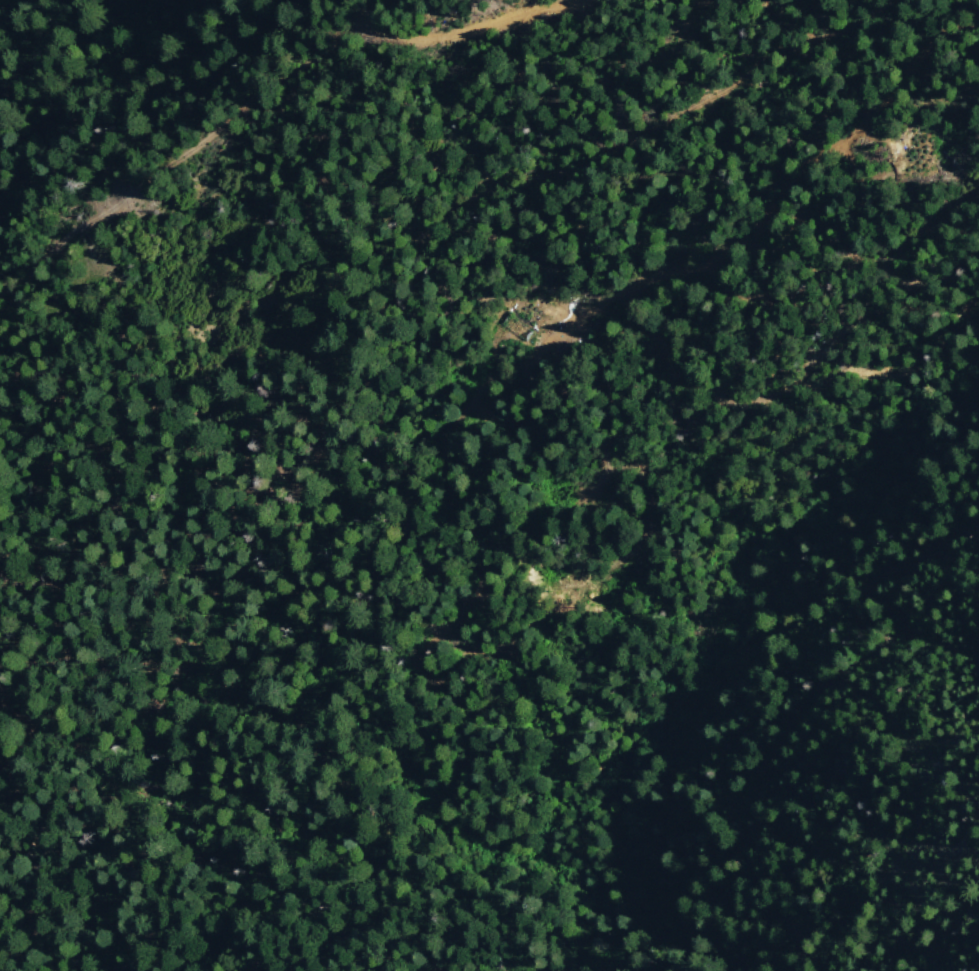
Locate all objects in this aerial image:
road: (147, 113)

